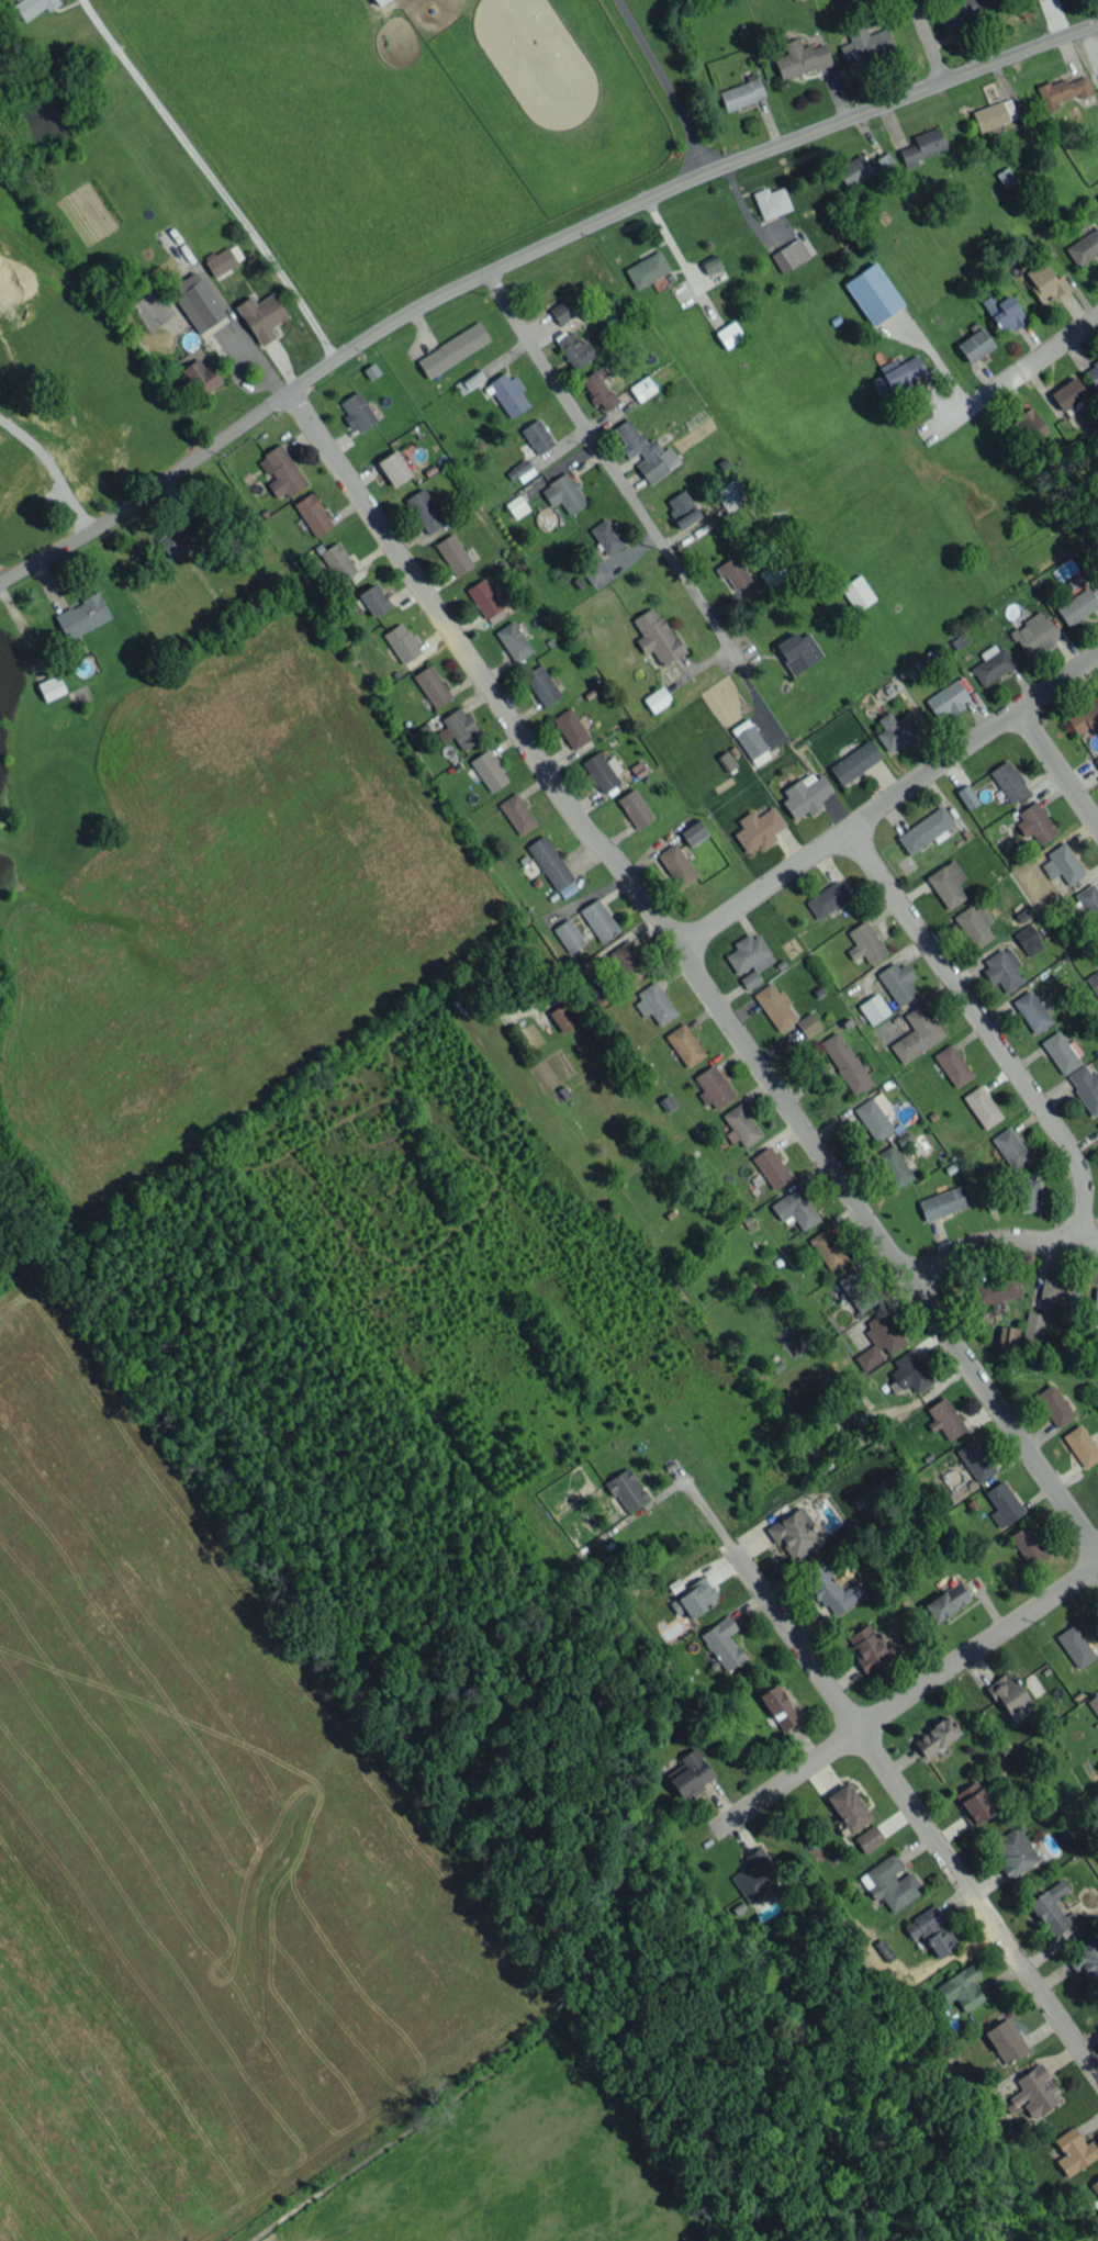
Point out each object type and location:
building: (378, 1)
building: (851, 1)
building: (31, 7)
building: (963, 10)
road: (927, 42)
building: (865, 44)
building: (800, 57)
road: (663, 82)
building: (1062, 90)
building: (742, 92)
building: (994, 113)
building: (921, 146)
building: (885, 163)
building: (853, 169)
road: (209, 176)
building: (1006, 177)
building: (771, 201)
building: (1084, 246)
road: (520, 250)
building: (789, 254)
building: (224, 259)
building: (710, 262)
building: (647, 269)
building: (1045, 282)
building: (873, 293)
building: (197, 301)
building: (561, 311)
building: (1004, 312)
building: (261, 316)
building: (729, 334)
building: (975, 345)
building: (574, 348)
building: (452, 349)
building: (1093, 372)
building: (897, 374)
road: (1013, 374)
building: (201, 376)
building: (469, 381)
building: (642, 388)
building: (598, 390)
building: (508, 393)
building: (1067, 393)
building: (357, 411)
building: (1030, 423)
building: (537, 436)
building: (645, 451)
building: (394, 467)
road: (608, 468)
building: (522, 470)
building: (281, 471)
road: (49, 472)
building: (564, 493)
building: (728, 494)
building: (516, 505)
building: (682, 507)
building: (424, 509)
building: (313, 513)
building: (607, 535)
building: (172, 540)
building: (453, 554)
building: (337, 561)
building: (1064, 570)
building: (732, 571)
building: (774, 572)
building: (596, 573)
building: (1097, 578)
building: (858, 592)
building: (484, 597)
building: (373, 598)
building: (1077, 606)
building: (81, 616)
building: (1034, 632)
building: (656, 636)
building: (513, 640)
building: (402, 642)
building: (798, 650)
building: (991, 663)
building: (541, 684)
building: (432, 685)
building: (51, 686)
building: (657, 698)
building: (946, 698)
building: (1085, 716)
building: (459, 728)
building: (571, 728)
building: (897, 730)
road: (1034, 732)
building: (750, 741)
building: (726, 760)
building: (1096, 760)
building: (854, 762)
building: (489, 770)
building: (602, 771)
building: (1008, 780)
building: (805, 793)
building: (966, 796)
road: (885, 800)
building: (635, 808)
building: (517, 813)
building: (1034, 821)
building: (758, 828)
building: (925, 829)
building: (693, 832)
building: (1062, 863)
building: (676, 864)
building: (552, 866)
building: (946, 883)
building: (827, 898)
building: (1089, 901)
building: (598, 919)
building: (974, 925)
building: (569, 935)
building: (1028, 939)
building: (865, 942)
building: (749, 957)
building: (627, 962)
building: (1002, 968)
road: (688, 970)
building: (897, 982)
building: (1093, 982)
building: (654, 1002)
building: (775, 1006)
building: (873, 1008)
building: (1032, 1010)
building: (564, 1015)
building: (808, 1023)
road: (987, 1029)
building: (917, 1033)
building: (684, 1044)
building: (1062, 1052)
building: (844, 1062)
building: (952, 1064)
building: (713, 1086)
building: (1086, 1087)
building: (982, 1106)
building: (874, 1116)
building: (741, 1124)
building: (1097, 1124)
building: (1010, 1147)
building: (894, 1166)
building: (771, 1167)
building: (1029, 1194)
building: (942, 1202)
building: (795, 1208)
road: (998, 1243)
building: (828, 1248)
building: (858, 1289)
building: (1058, 1289)
building: (996, 1290)
building: (1095, 1299)
building: (1032, 1325)
building: (1007, 1337)
building: (878, 1340)
building: (909, 1371)
building: (1053, 1405)
building: (944, 1419)
building: (852, 1434)
building: (1080, 1445)
building: (975, 1459)
building: (626, 1490)
building: (1002, 1503)
building: (794, 1533)
building: (1028, 1545)
building: (830, 1589)
building: (693, 1598)
building: (946, 1601)
building: (722, 1643)
building: (1075, 1646)
building: (869, 1647)
building: (1007, 1692)
road: (903, 1696)
building: (1094, 1703)
building: (778, 1706)
building: (1019, 1712)
building: (935, 1736)
road: (885, 1769)
building: (690, 1773)
building: (974, 1802)
building: (848, 1807)
building: (869, 1838)
building: (1013, 1851)
building: (755, 1875)
building: (890, 1882)
building: (1052, 1908)
building: (930, 1931)
building: (1086, 1961)
building: (961, 1987)
building: (1006, 2040)
building: (1034, 2091)
building: (1074, 2151)
building: (1095, 2185)

